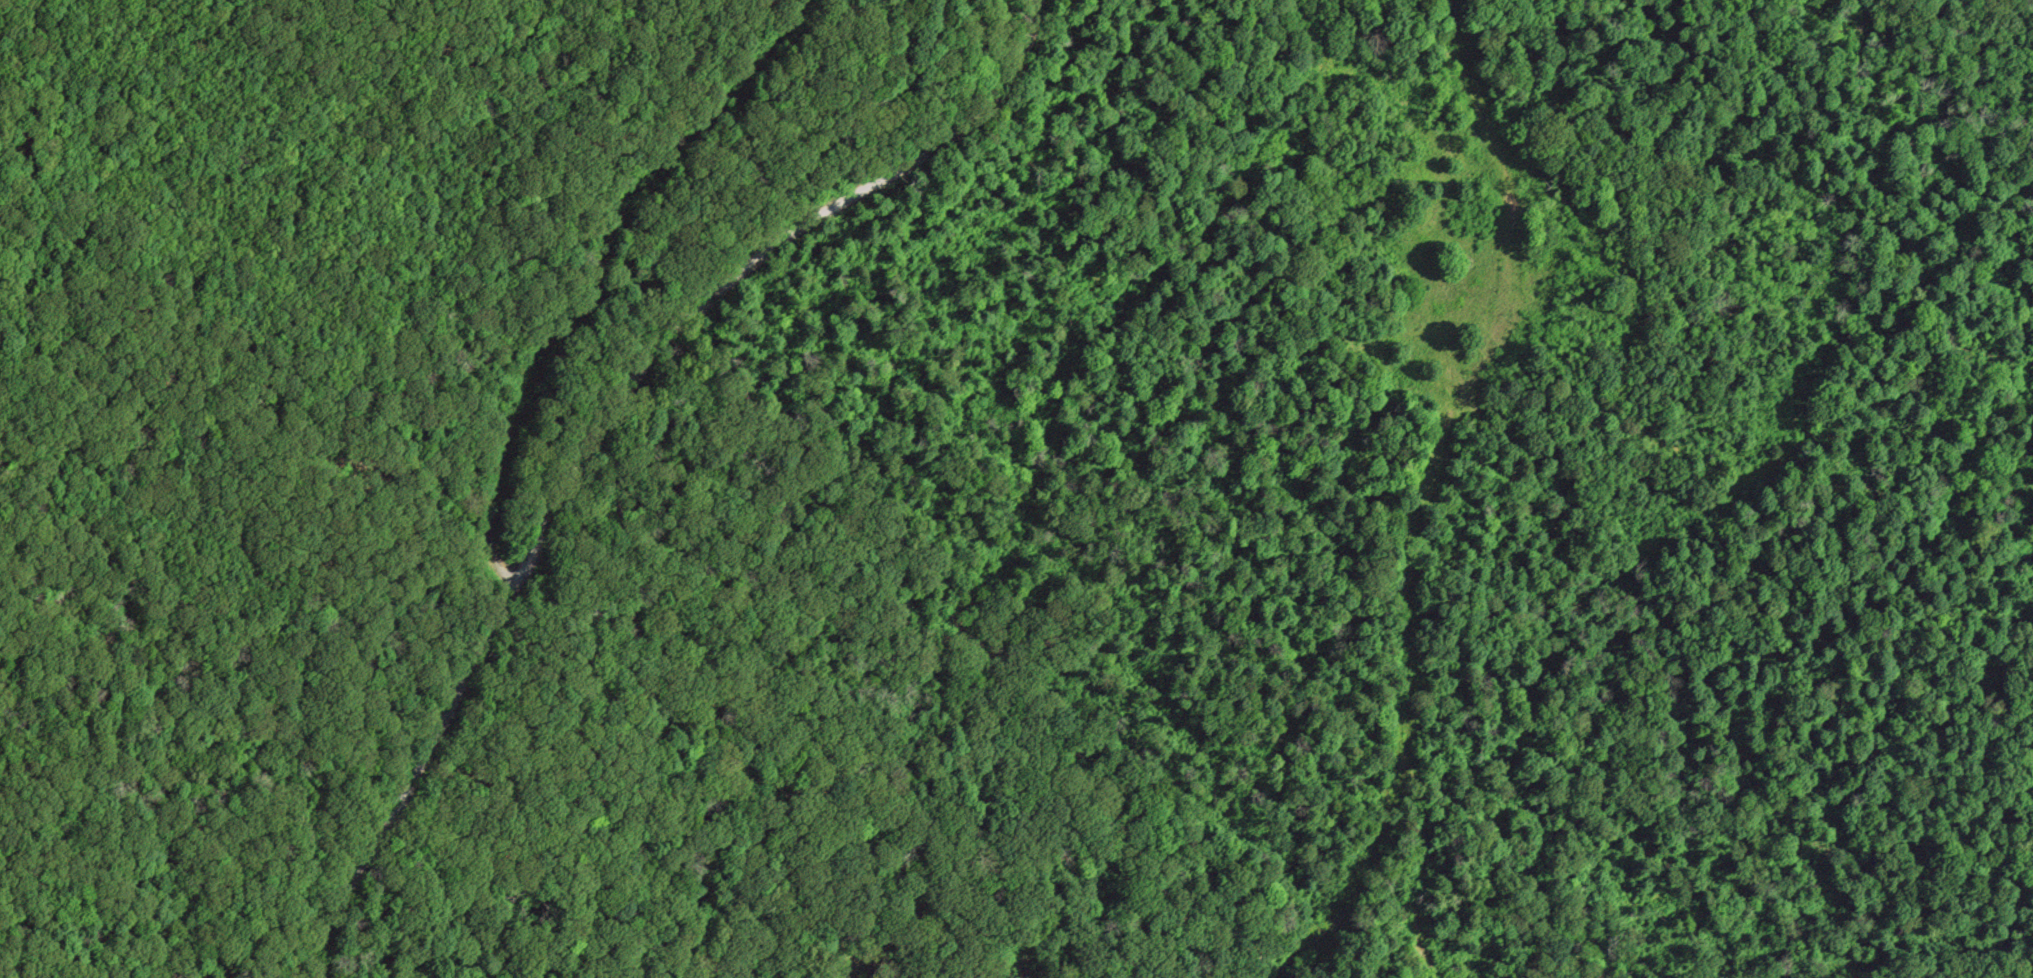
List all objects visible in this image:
road: (824, 212)
road: (450, 700)
road: (657, 705)

